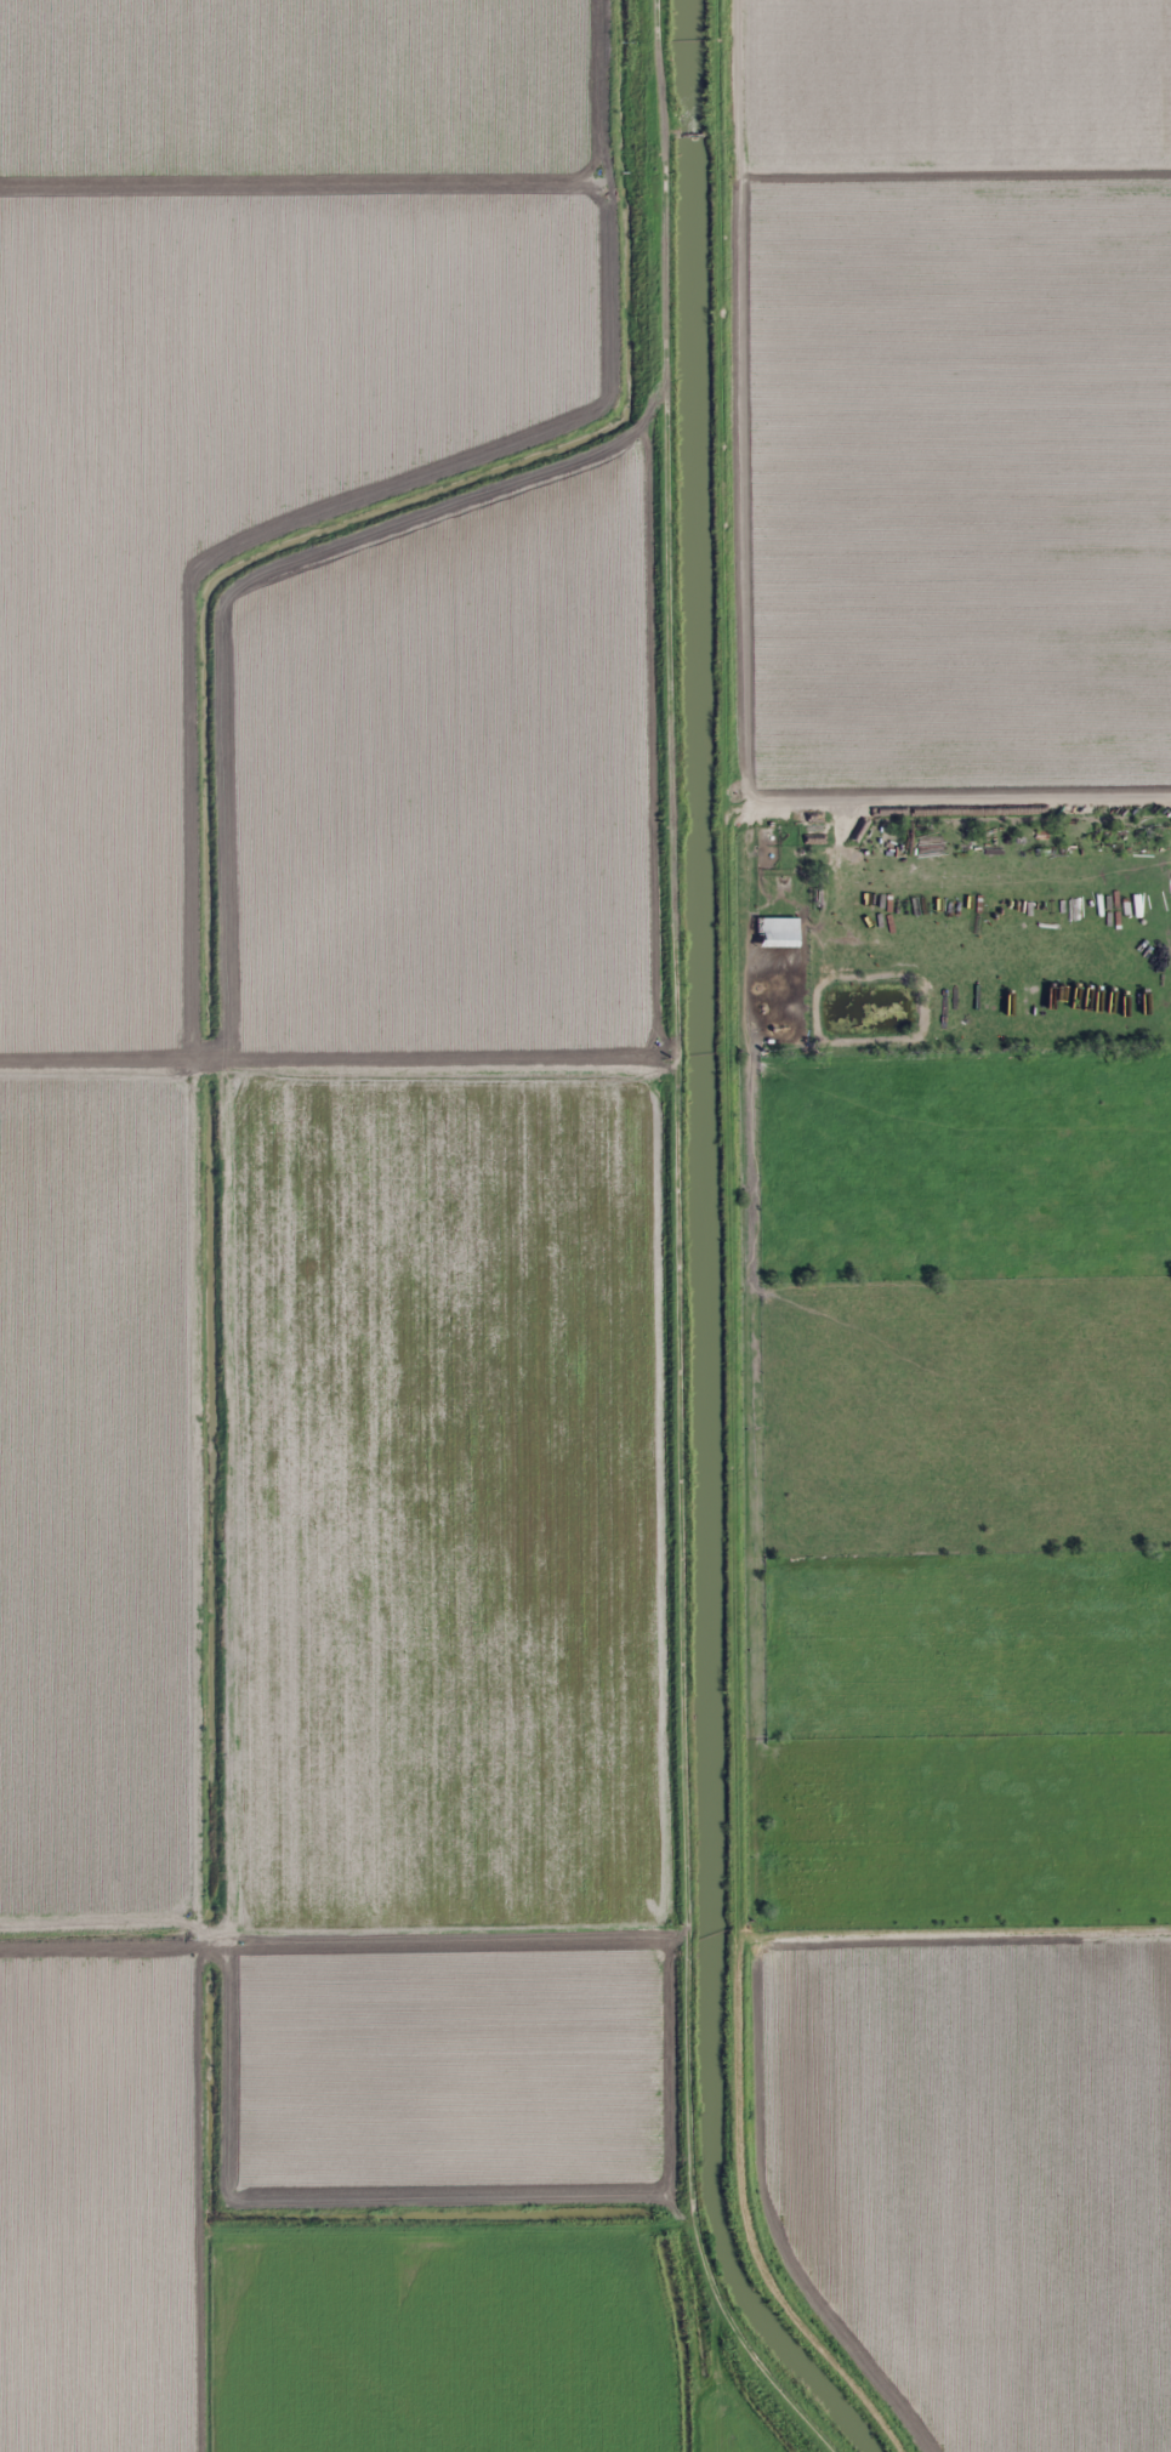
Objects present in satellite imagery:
building: (813, 834)
building: (775, 932)

